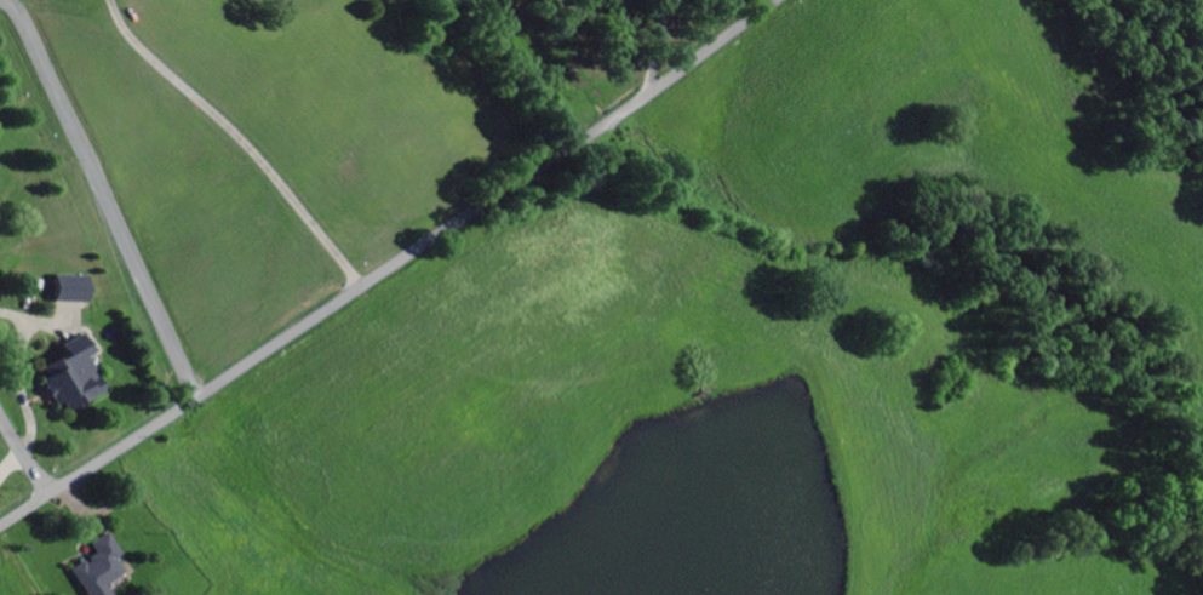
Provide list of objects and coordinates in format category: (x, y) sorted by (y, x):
road: (107, 196)
road: (391, 267)
building: (69, 381)
road: (22, 456)
building: (96, 568)

